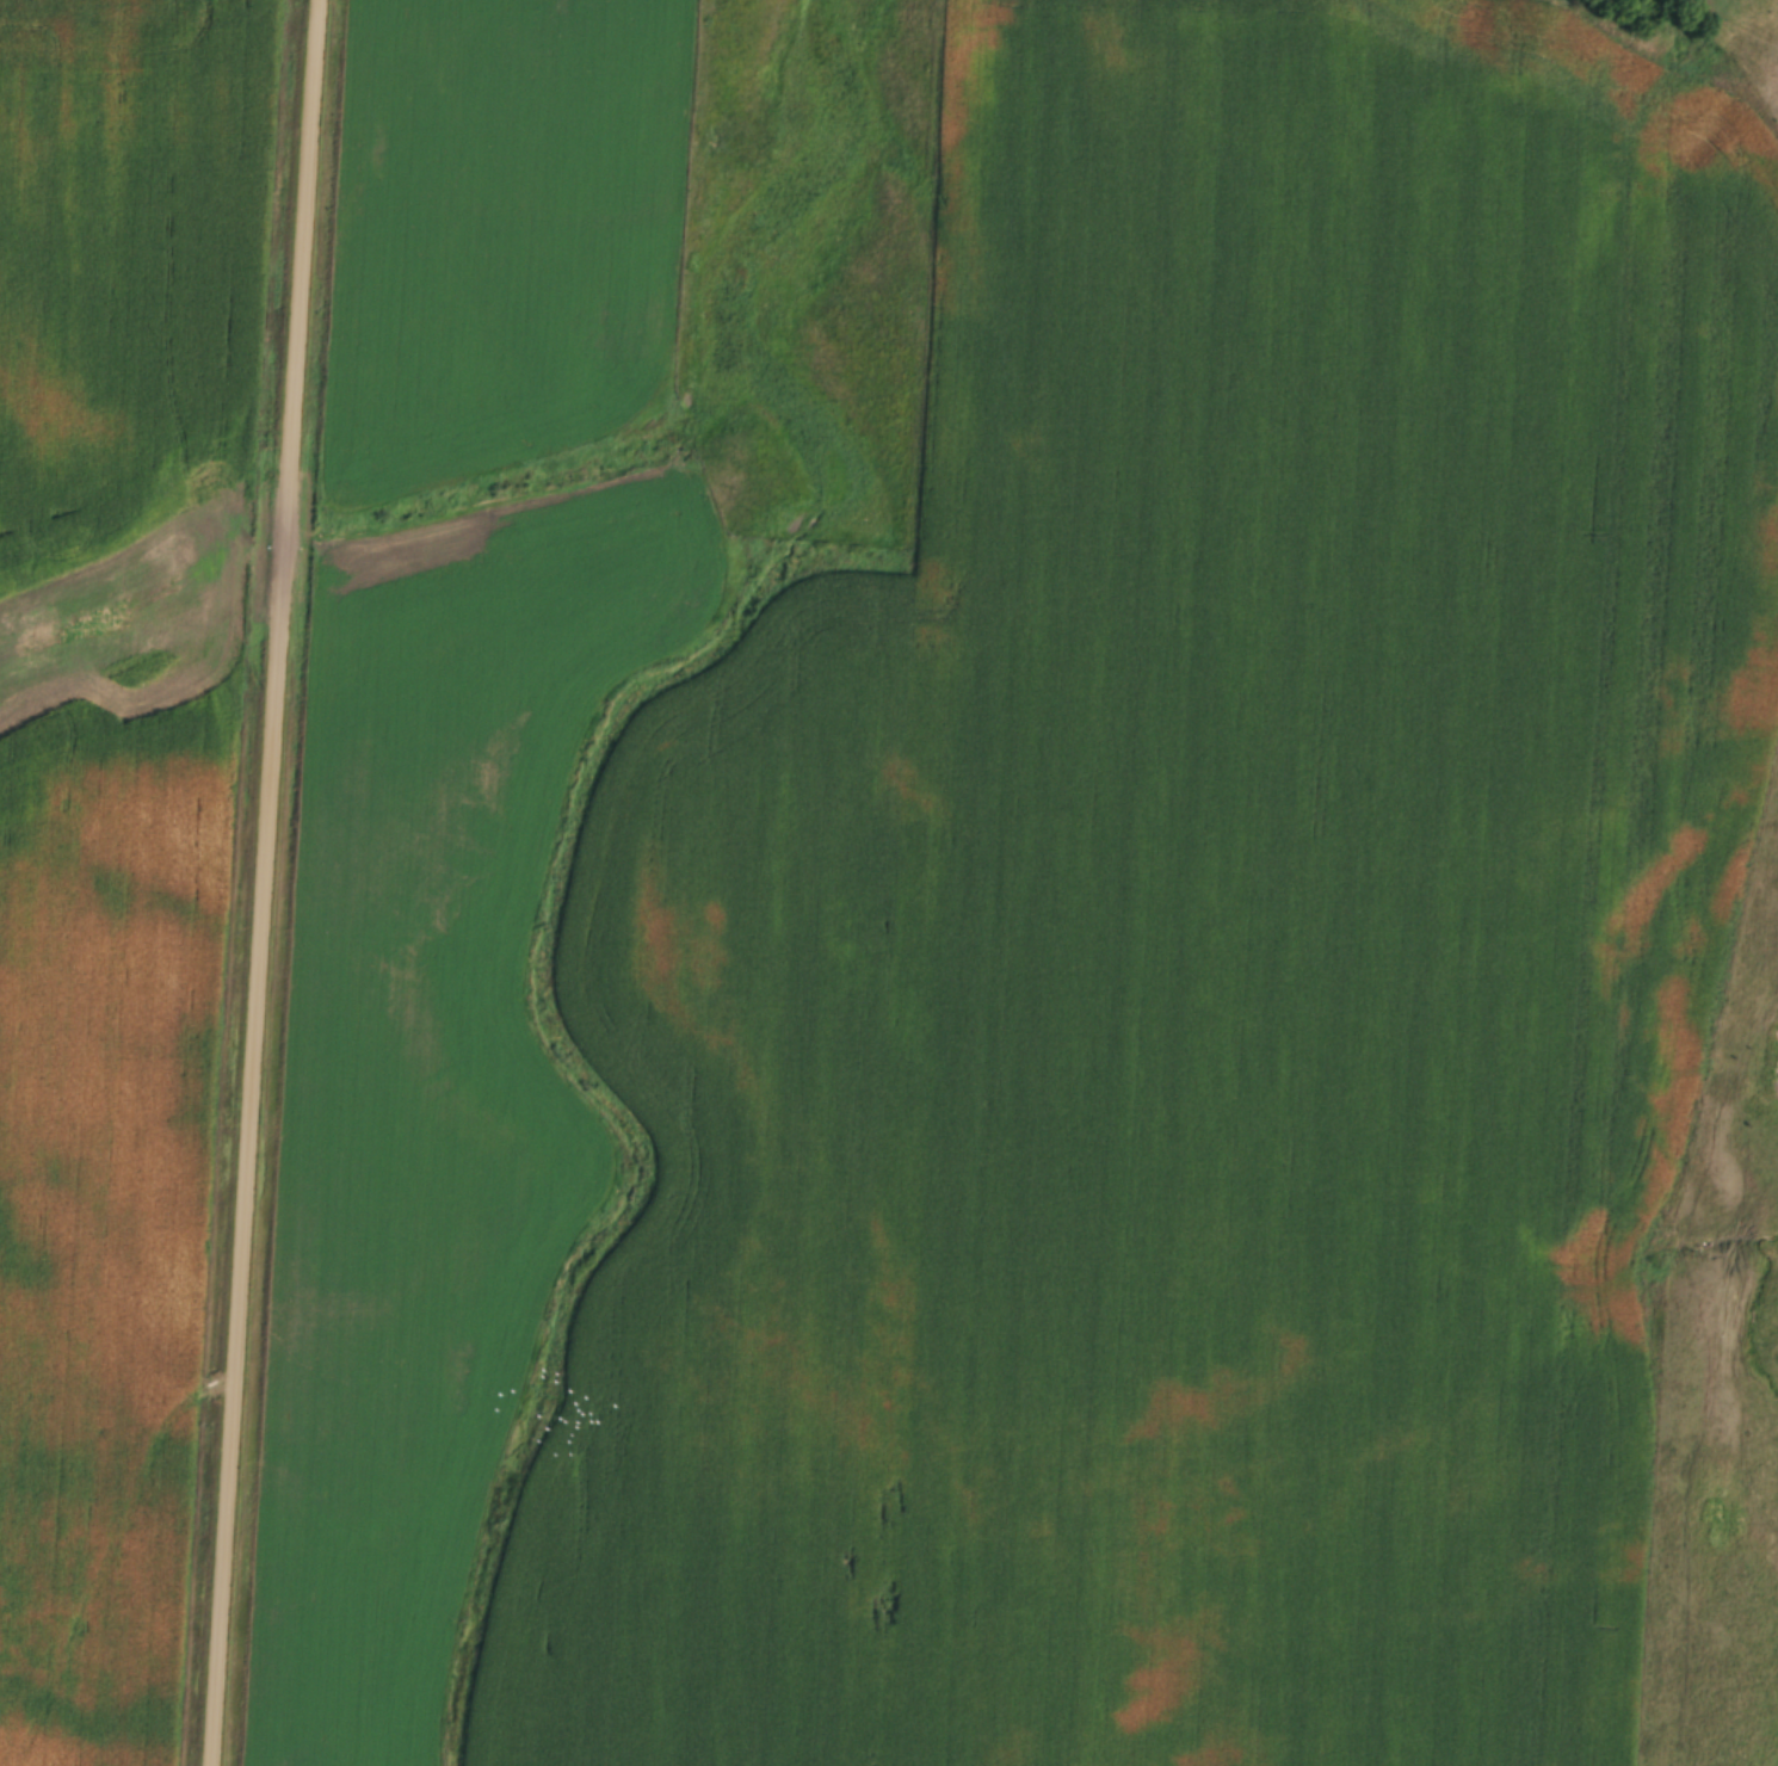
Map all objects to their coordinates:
crop: (66, 799)
road: (267, 883)
crop: (1189, 943)

